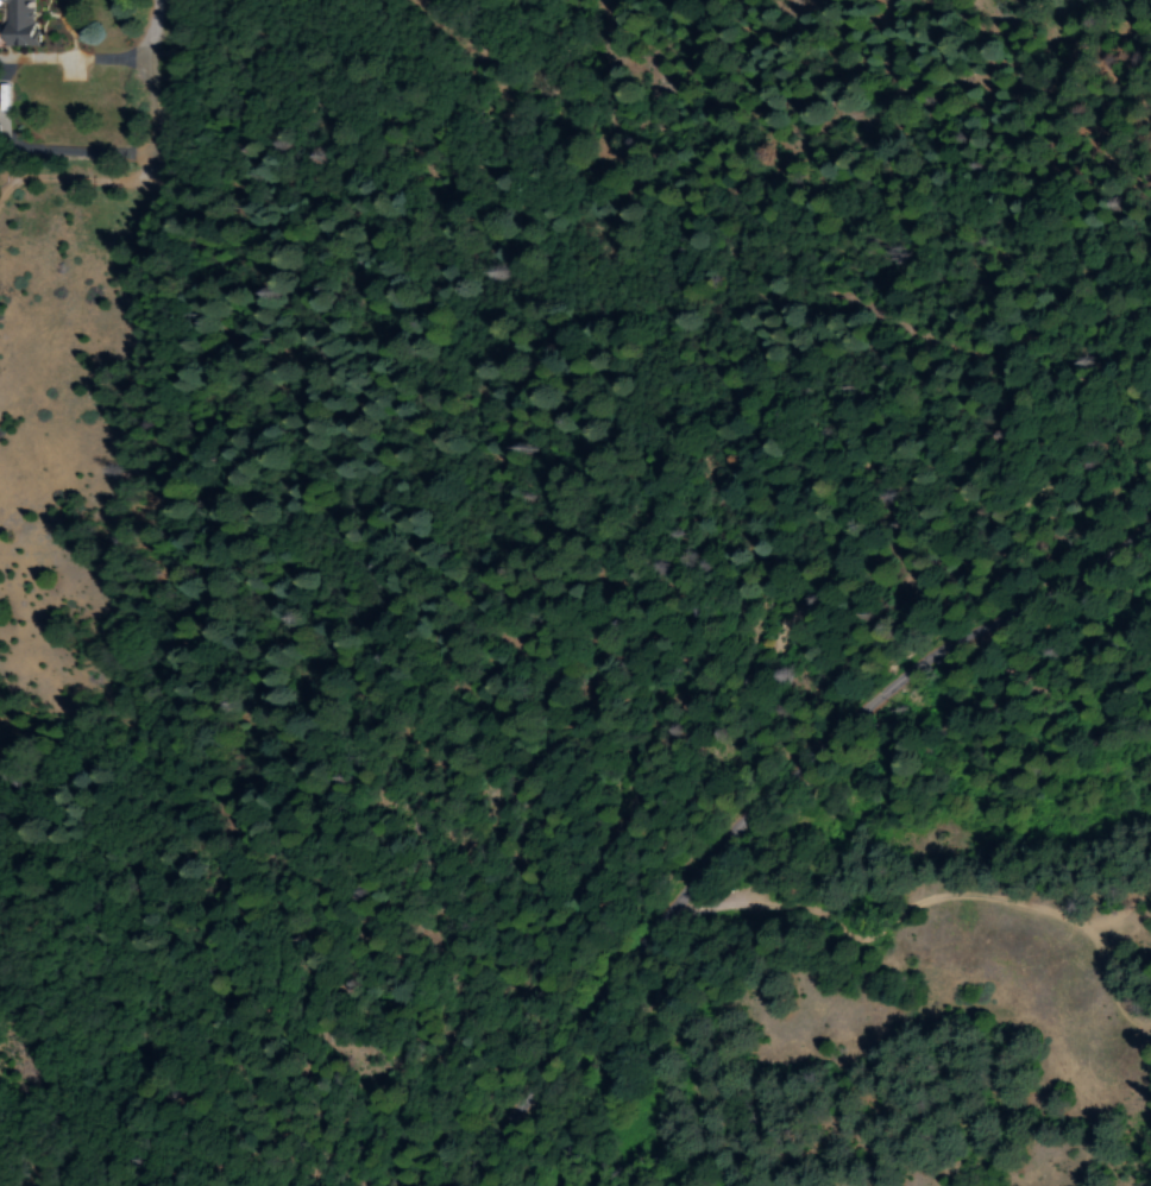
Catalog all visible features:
building: (18, 23)
road: (760, 799)

